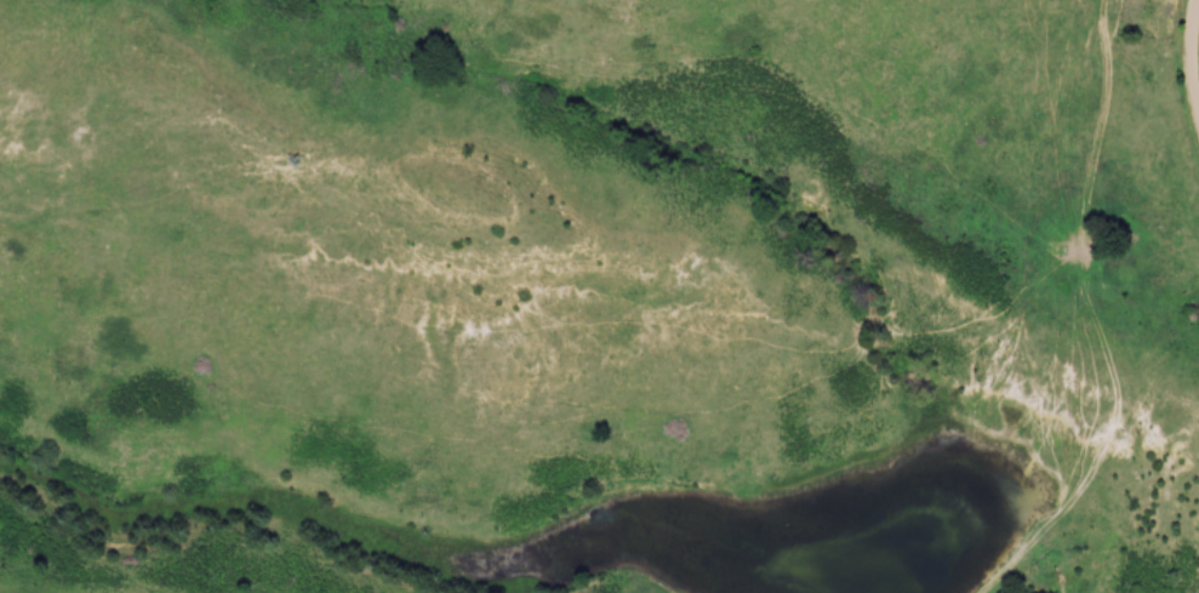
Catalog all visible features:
road: (1189, 57)

